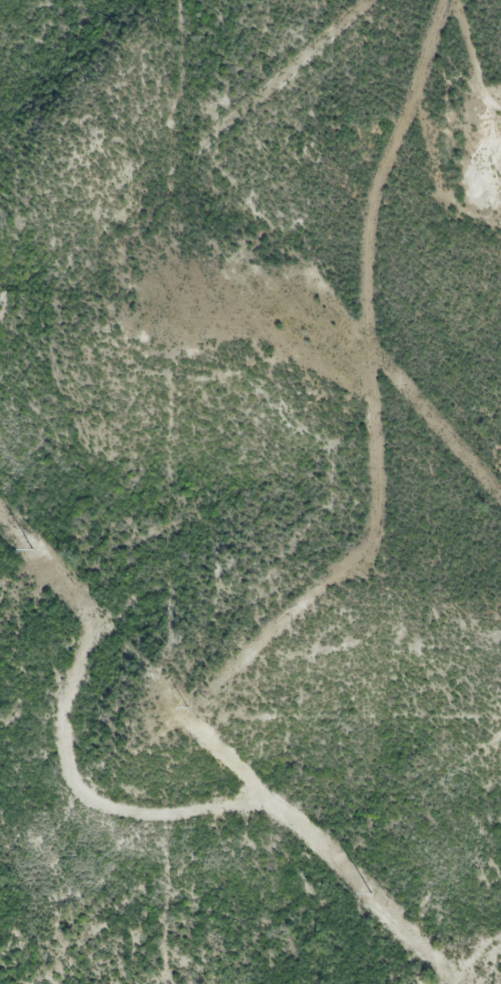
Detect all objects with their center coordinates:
power tower: (187, 710)

